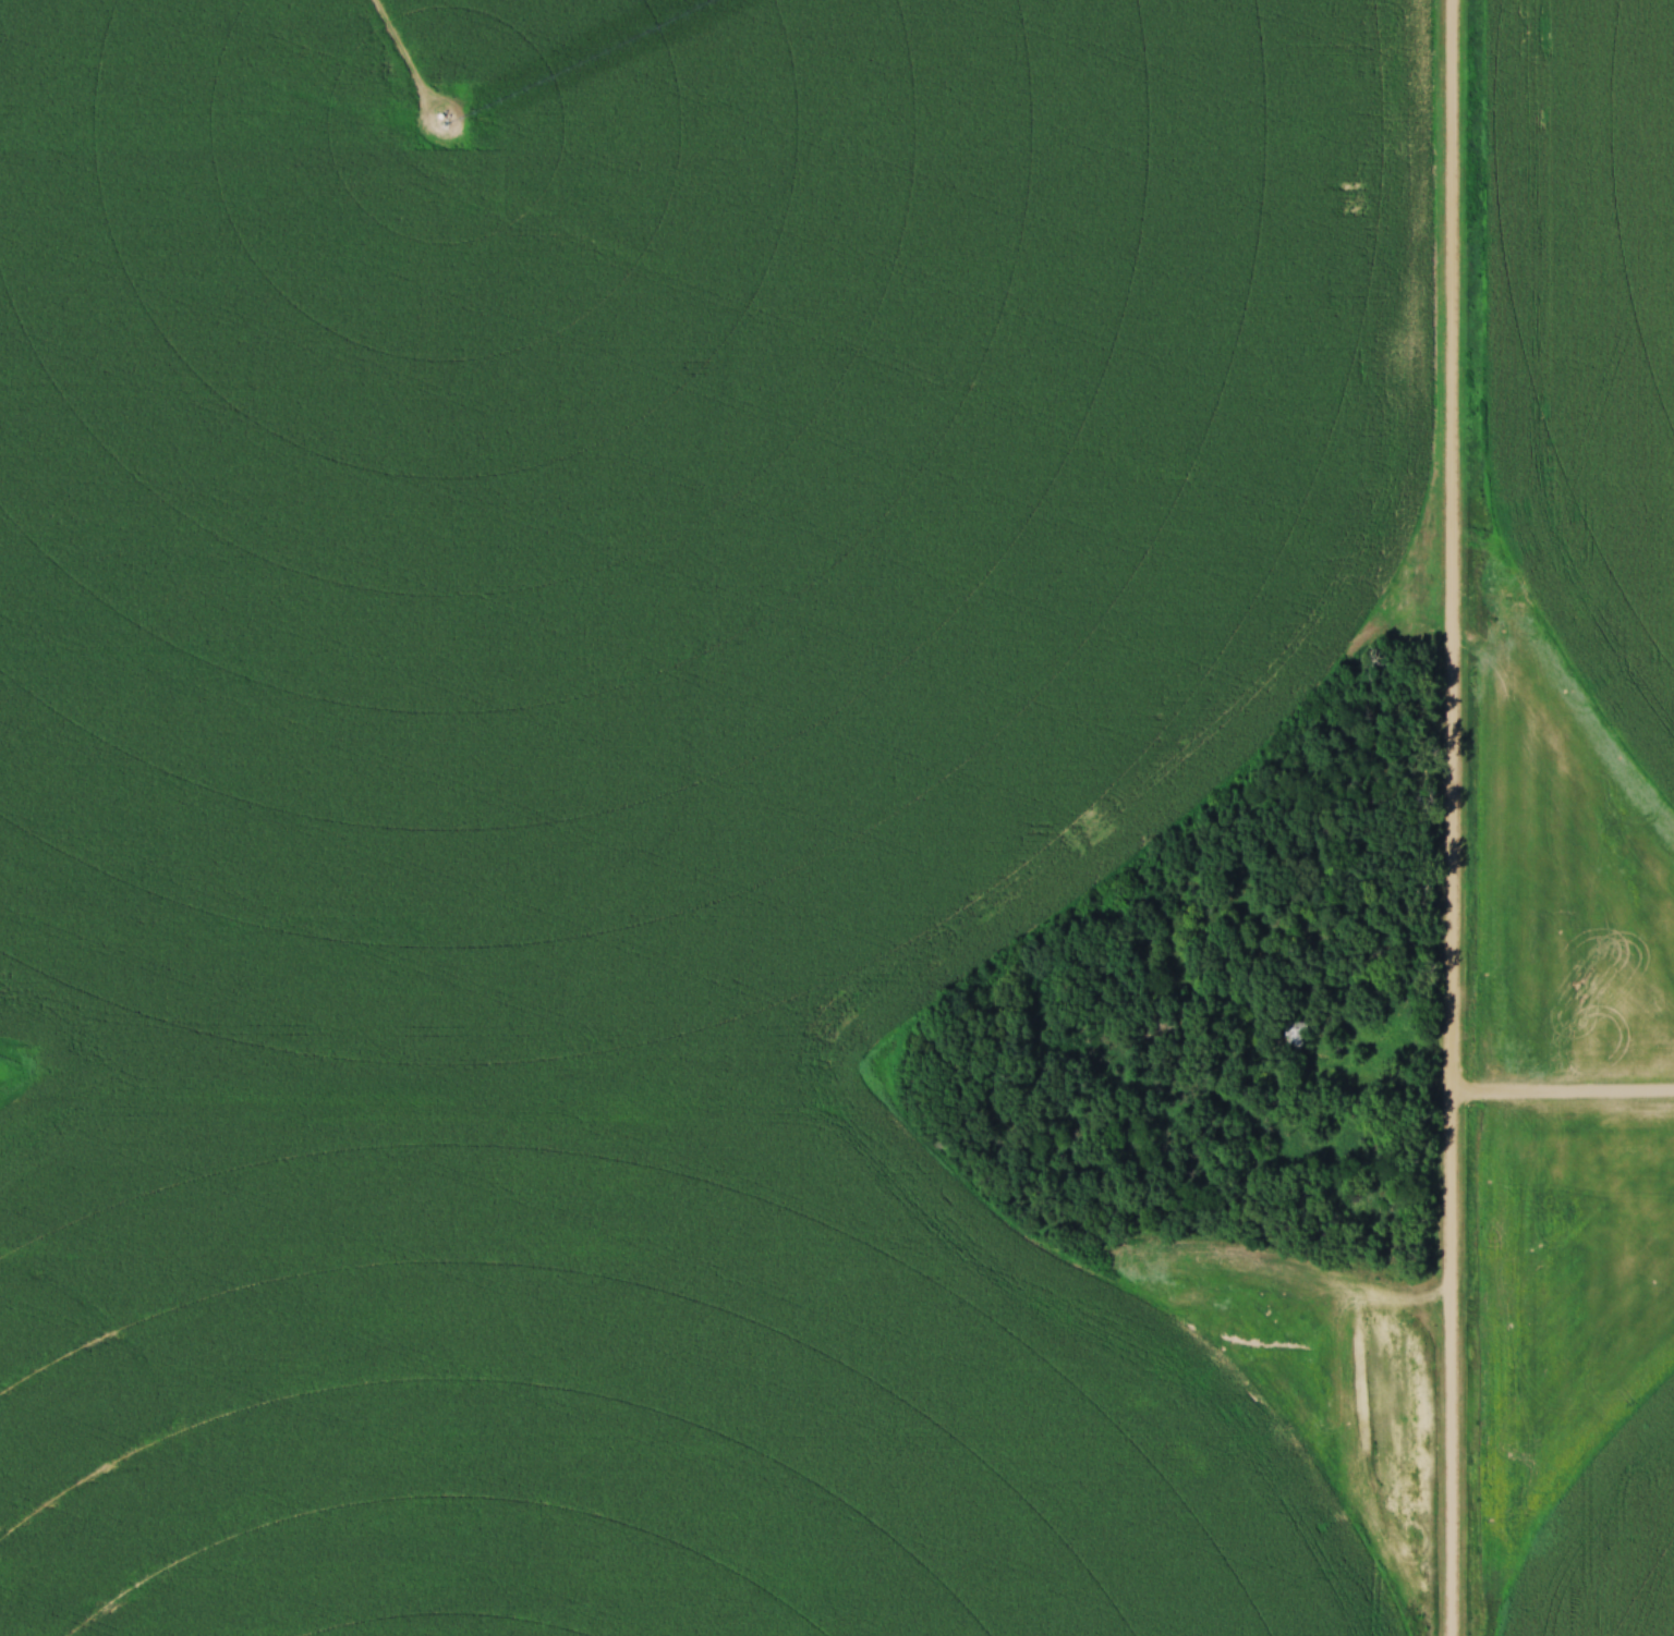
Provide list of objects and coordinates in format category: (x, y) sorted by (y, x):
road: (1454, 817)
building: (1299, 1036)
road: (1318, 1078)

